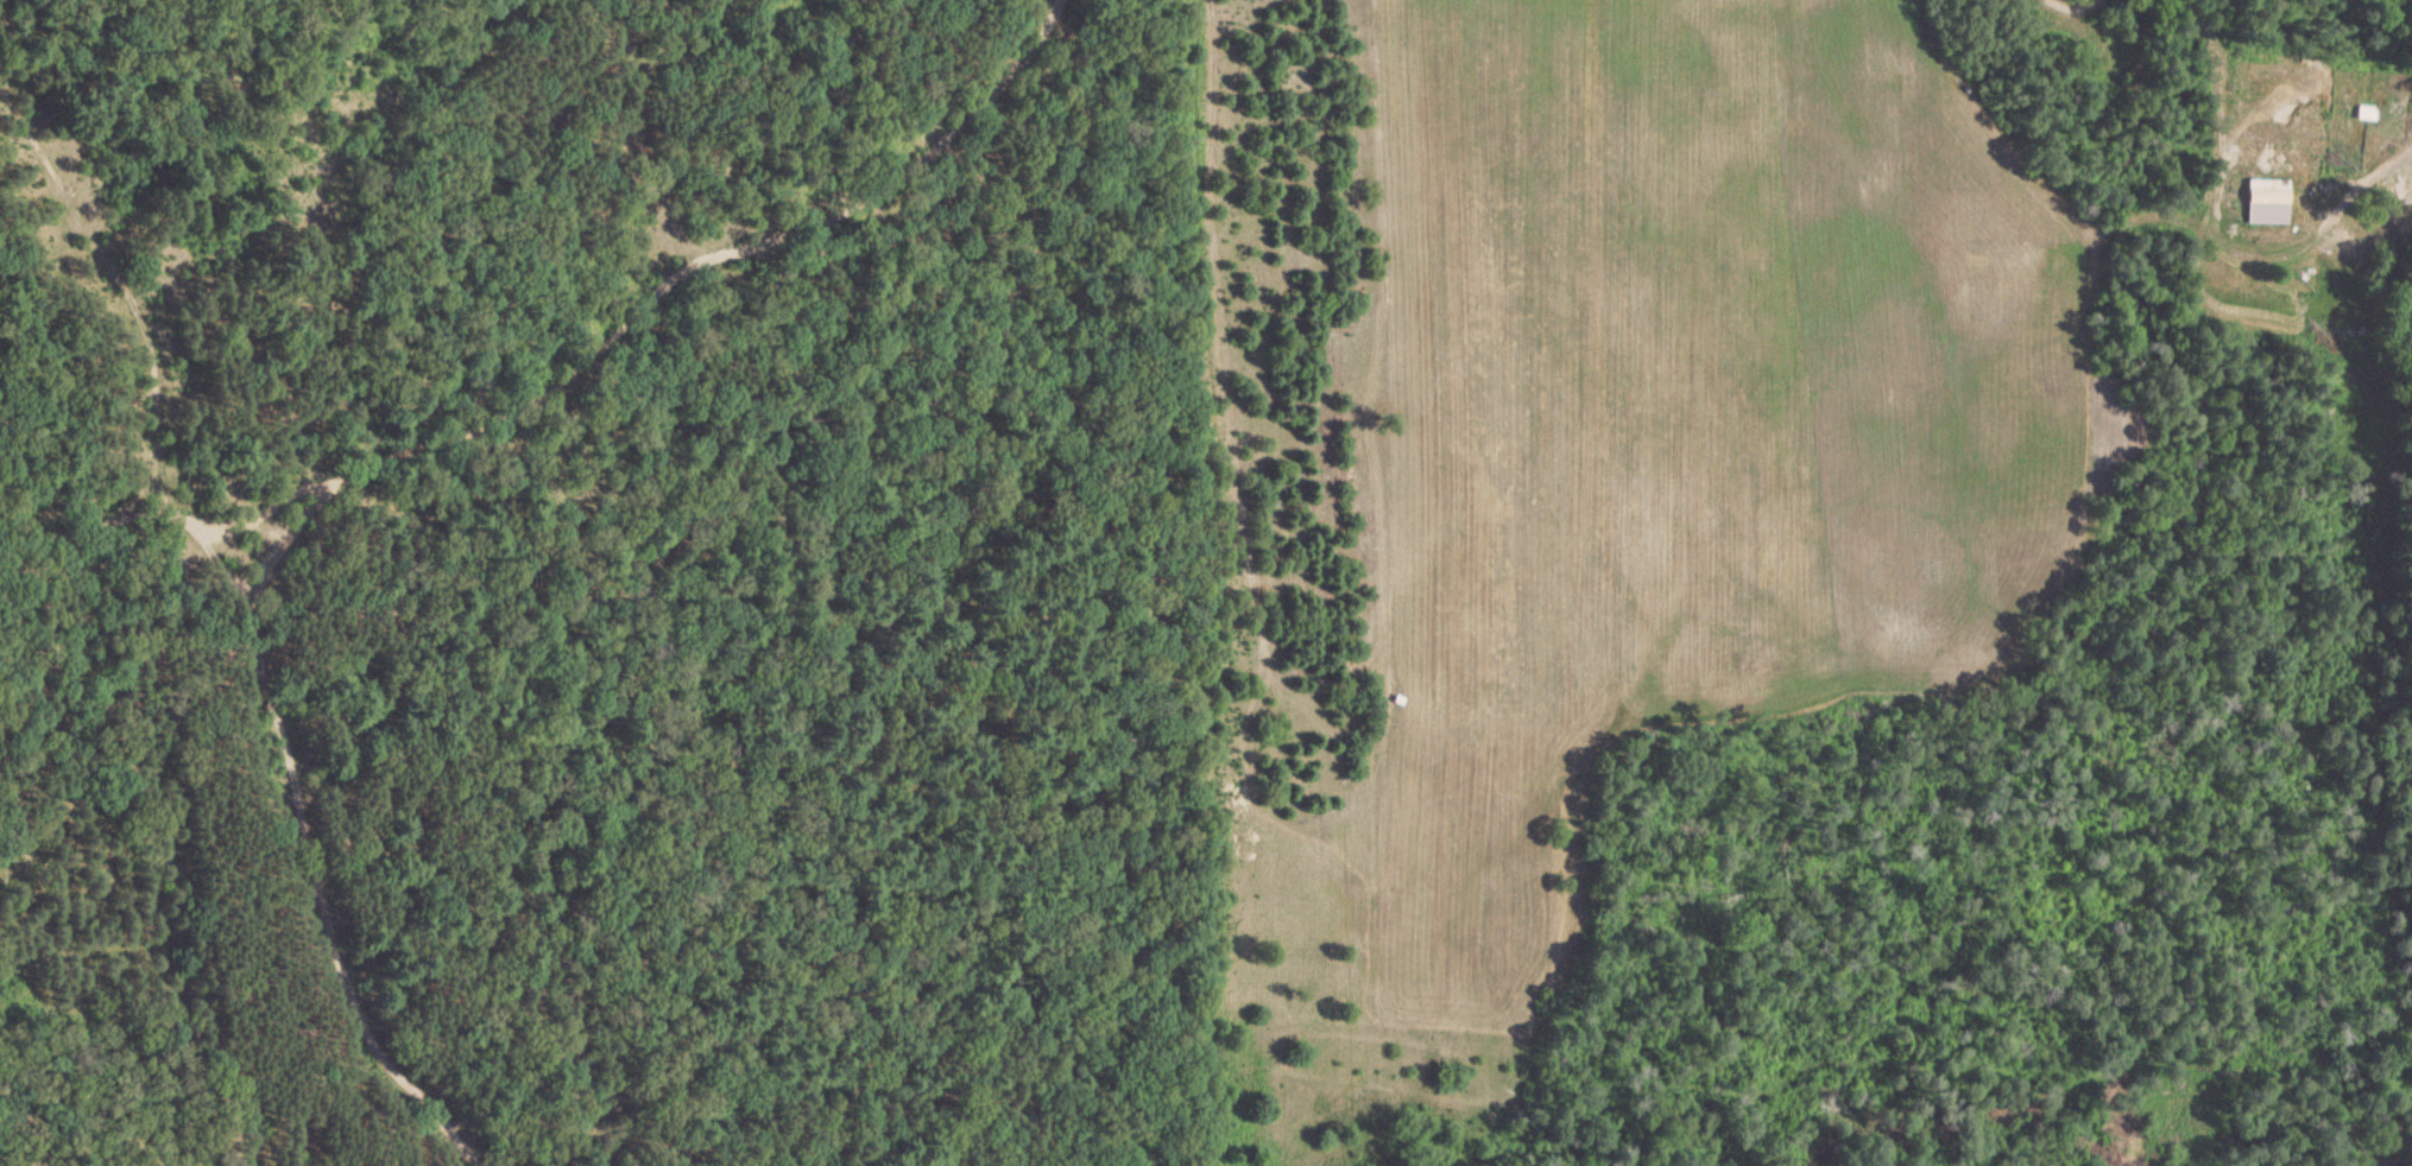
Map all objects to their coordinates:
road: (2389, 156)
road: (573, 365)

